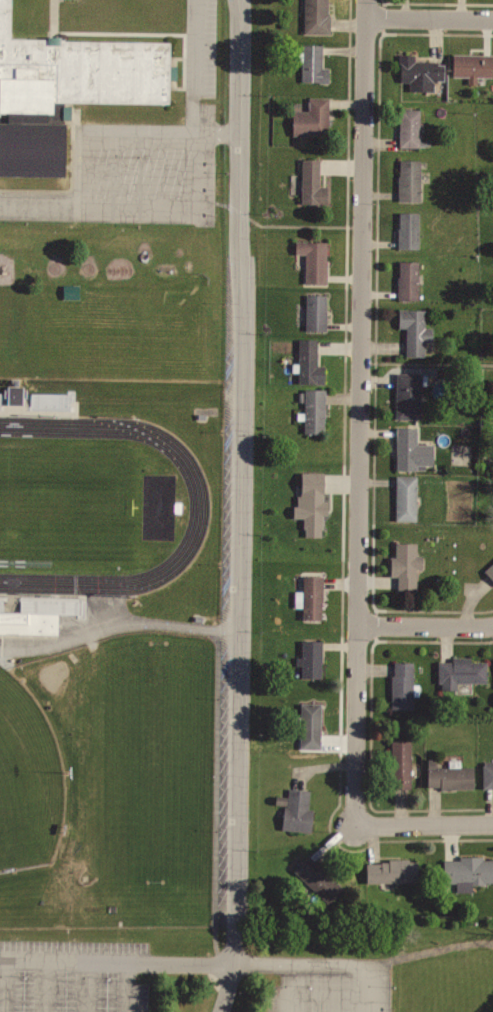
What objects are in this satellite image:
building: (318, 15)
road: (428, 15)
road: (52, 19)
road: (197, 48)
building: (473, 62)
building: (316, 63)
building: (421, 70)
building: (67, 89)
building: (313, 116)
building: (411, 126)
road: (210, 132)
road: (233, 132)
park: (203, 159)
building: (411, 178)
building: (314, 181)
park: (203, 185)
road: (202, 192)
road: (223, 202)
road: (141, 203)
park: (204, 209)
road: (241, 210)
road: (305, 225)
building: (410, 227)
building: (316, 258)
building: (410, 278)
building: (319, 311)
building: (418, 327)
building: (312, 360)
road: (427, 361)
building: (412, 393)
building: (27, 397)
building: (317, 408)
road: (359, 410)
building: (415, 447)
building: (408, 496)
track: (200, 498)
park: (67, 502)
building: (313, 505)
road: (241, 506)
building: (410, 562)
building: (490, 568)
building: (312, 596)
building: (33, 612)
road: (117, 618)
road: (425, 622)
building: (313, 656)
building: (464, 671)
building: (405, 683)
building: (314, 723)
park: (156, 761)
building: (401, 762)
building: (489, 774)
building: (448, 775)
park: (27, 778)
stadium: (27, 780)
building: (298, 805)
road: (425, 822)
building: (394, 869)
building: (468, 870)
building: (320, 875)
road: (431, 947)
road: (209, 962)
road: (2, 985)
road: (43, 986)
road: (84, 986)
road: (124, 987)
road: (291, 988)
road: (331, 989)

